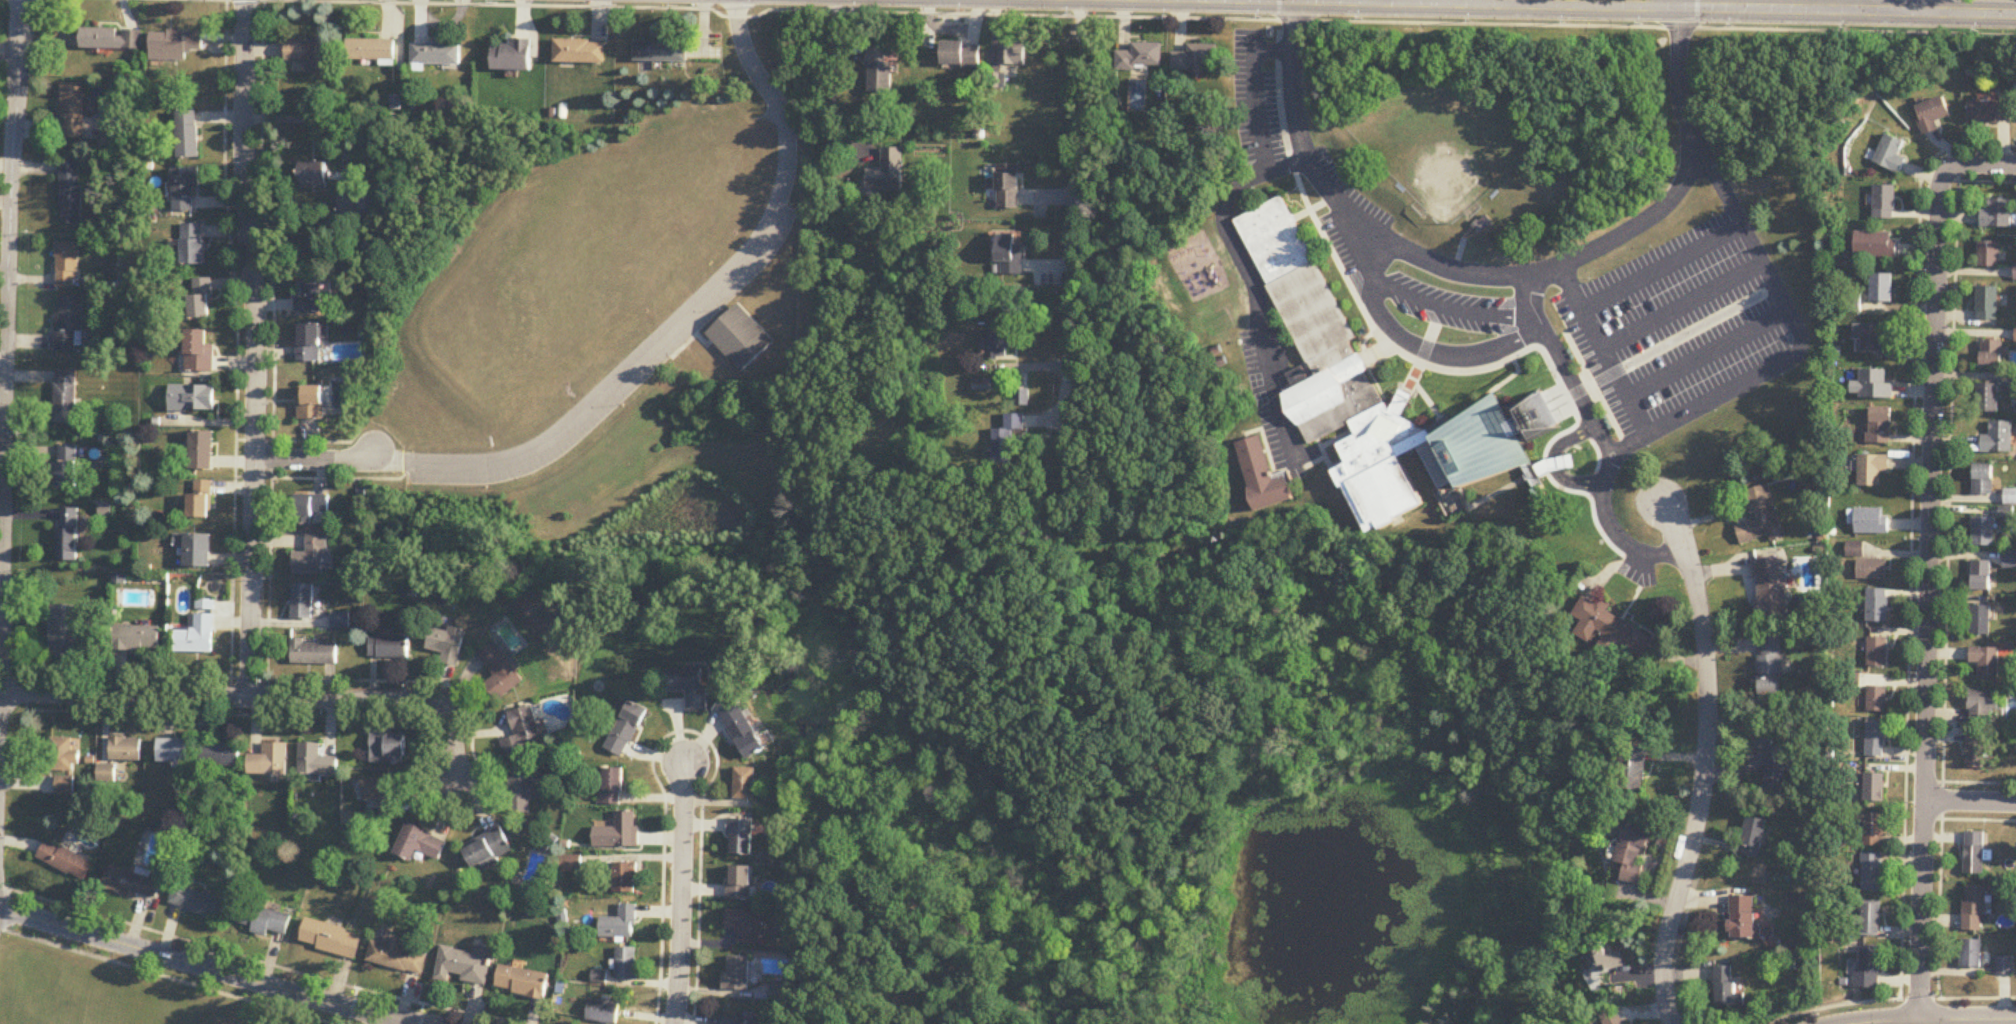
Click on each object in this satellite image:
road: (1272, 0)
road: (1620, 6)
road: (1866, 6)
road: (1129, 18)
building: (112, 38)
building: (175, 44)
building: (371, 51)
building: (660, 51)
building: (579, 52)
building: (310, 54)
building: (436, 54)
building: (960, 54)
building: (1011, 55)
building: (512, 56)
building: (1140, 57)
building: (1194, 60)
building: (878, 69)
road: (831, 87)
building: (73, 111)
building: (1992, 112)
building: (1933, 115)
building: (189, 135)
building: (1891, 155)
road: (1980, 163)
building: (886, 172)
building: (314, 175)
road: (1979, 182)
building: (1007, 186)
road: (1084, 186)
building: (186, 190)
building: (71, 192)
building: (1885, 203)
building: (1997, 215)
building: (1483, 224)
road: (1227, 230)
building: (193, 244)
building: (1876, 245)
building: (1009, 255)
building: (1989, 255)
building: (68, 265)
road: (1662, 269)
building: (2015, 273)
road: (1499, 277)
building: (1881, 288)
building: (308, 297)
building: (201, 299)
building: (1987, 304)
road: (1682, 307)
road: (1453, 308)
road: (679, 314)
building: (69, 324)
building: (739, 338)
building: (1875, 340)
building: (311, 342)
building: (1003, 342)
road: (253, 347)
road: (1418, 347)
building: (199, 352)
road: (1604, 353)
road: (1708, 355)
building: (1992, 355)
road: (5, 360)
road: (1565, 370)
building: (2011, 382)
building: (984, 385)
road: (1747, 385)
building: (1873, 386)
building: (1371, 390)
building: (65, 397)
building: (192, 399)
building: (1987, 399)
building: (310, 403)
building: (1881, 427)
building: (1009, 434)
building: (1999, 439)
building: (202, 450)
road: (316, 461)
building: (65, 468)
building: (1873, 470)
building: (1264, 477)
building: (1984, 480)
building: (201, 500)
building: (310, 507)
building: (1761, 517)
building: (1873, 521)
building: (1984, 532)
building: (67, 535)
road: (1912, 535)
building: (195, 549)
building: (312, 557)
building: (2010, 561)
building: (1868, 564)
building: (1982, 576)
road: (1948, 582)
building: (1771, 589)
road: (1929, 595)
building: (302, 602)
building: (1878, 606)
building: (341, 620)
building: (1980, 620)
building: (1611, 628)
building: (63, 631)
building: (197, 631)
building: (136, 638)
building: (448, 644)
building: (389, 647)
building: (1877, 651)
building: (313, 653)
building: (1987, 662)
building: (1771, 666)
building: (500, 672)
building: (690, 687)
road: (262, 696)
building: (1877, 699)
building: (1983, 706)
building: (627, 729)
building: (522, 732)
building: (742, 732)
building: (1876, 740)
building: (388, 749)
building: (126, 750)
building: (174, 752)
building: (1976, 752)
building: (221, 755)
building: (65, 756)
building: (1774, 758)
building: (270, 762)
building: (317, 762)
road: (1707, 763)
building: (1631, 769)
road: (1970, 783)
building: (745, 784)
building: (65, 786)
building: (613, 787)
building: (1874, 788)
building: (524, 789)
building: (383, 795)
road: (1970, 802)
road: (1969, 820)
building: (1873, 829)
building: (619, 832)
building: (741, 837)
building: (1753, 838)
building: (420, 844)
building: (488, 849)
building: (1974, 853)
building: (1632, 854)
building: (69, 862)
building: (571, 864)
building: (1872, 873)
building: (626, 878)
building: (134, 882)
building: (741, 883)
road: (685, 894)
building: (198, 903)
building: (1974, 909)
building: (1743, 918)
building: (1871, 919)
building: (265, 921)
building: (620, 924)
building: (749, 926)
building: (331, 939)
building: (1971, 954)
building: (397, 958)
building: (1601, 963)
building: (627, 964)
building: (464, 965)
road: (199, 966)
building: (2004, 966)
building: (1869, 967)
building: (738, 973)
building: (523, 982)
building: (1727, 991)
road: (1892, 1001)
building: (603, 1013)
building: (1613, 1018)
road: (1938, 1019)
building: (737, 1021)

